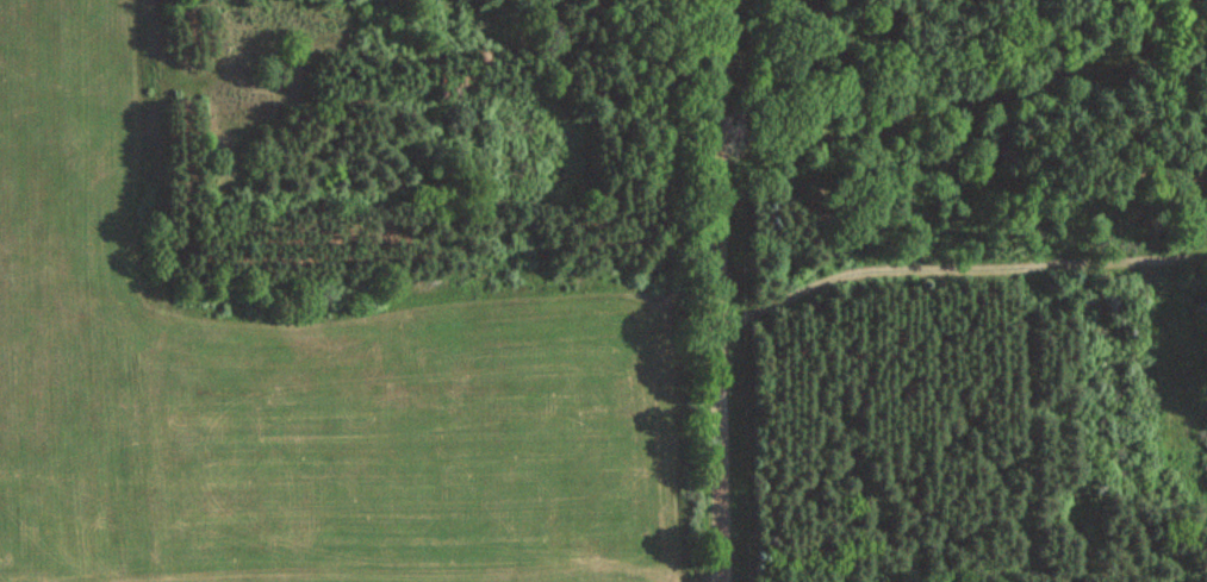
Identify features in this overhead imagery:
road: (957, 17)
road: (711, 290)

